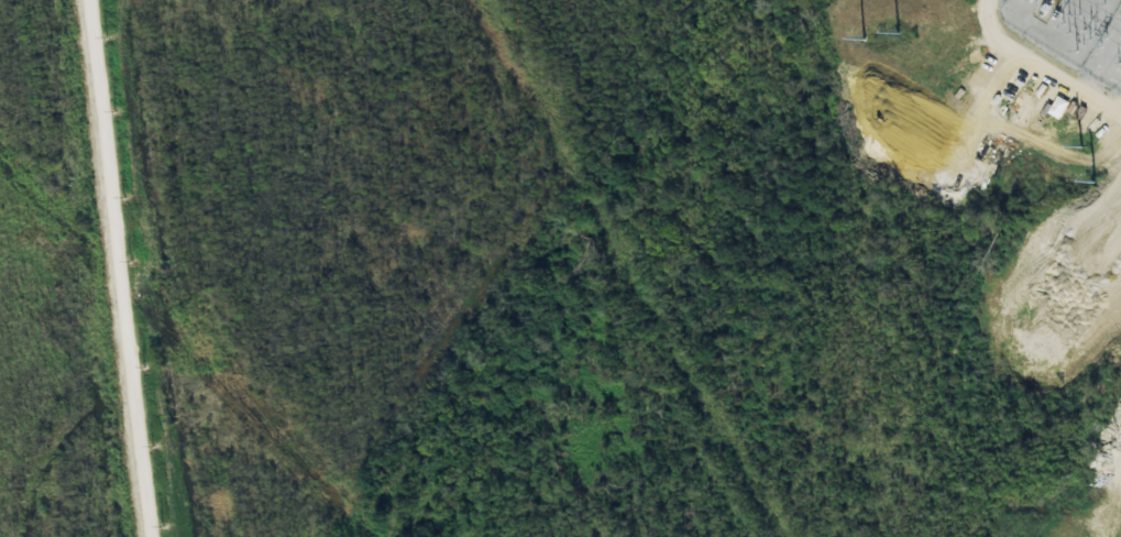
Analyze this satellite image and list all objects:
power substation: (1075, 30)
building: (1055, 109)
road: (113, 268)

